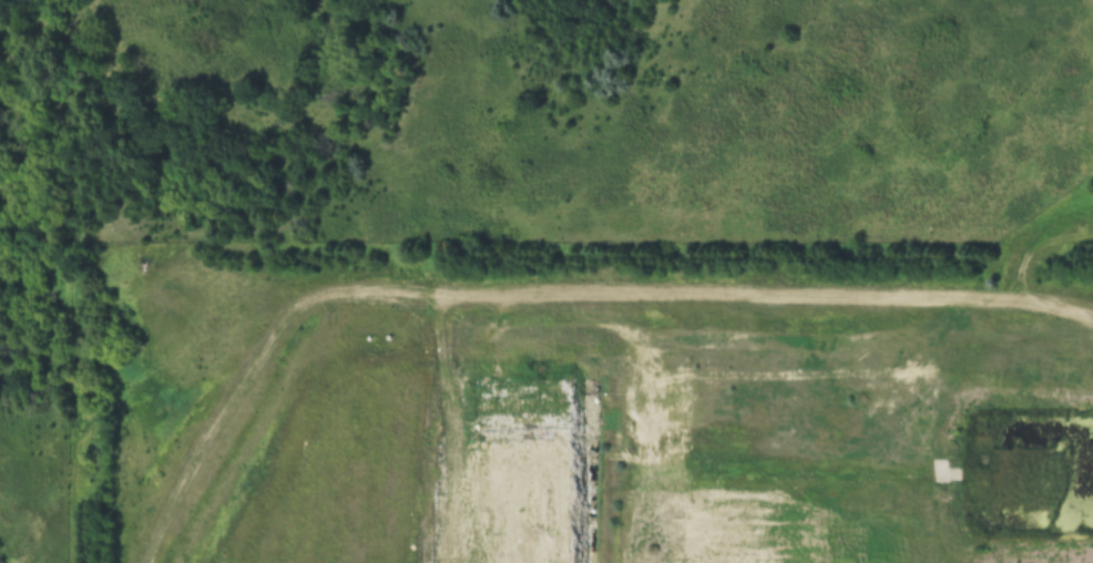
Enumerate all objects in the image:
building: (944, 471)

